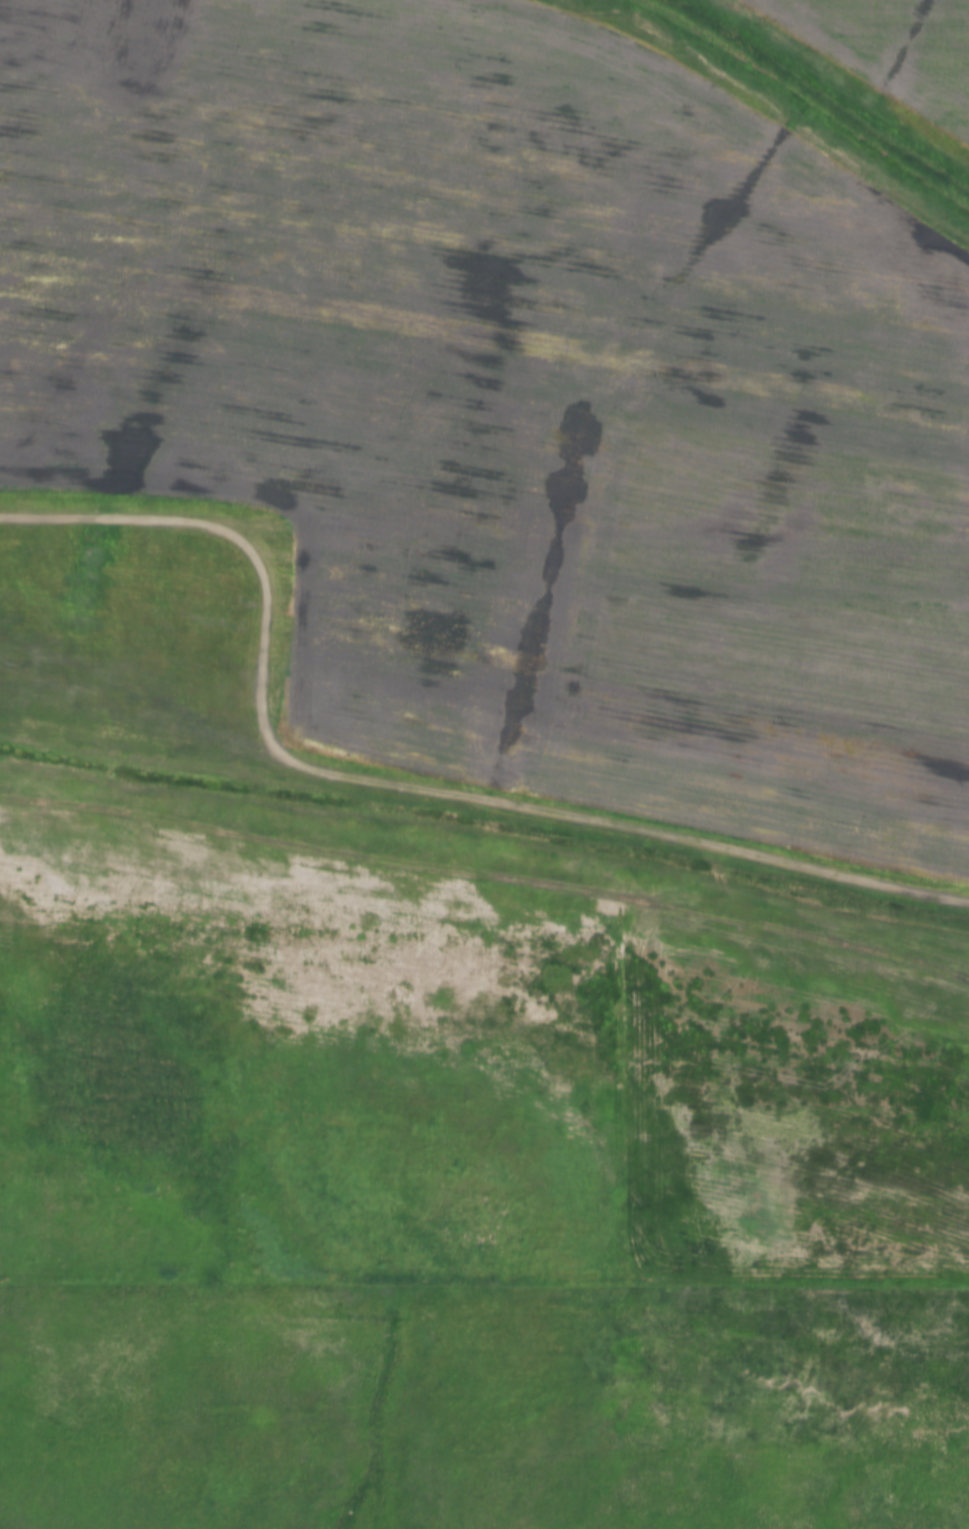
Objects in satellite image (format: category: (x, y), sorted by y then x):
road: (250, 515)
road: (486, 878)

